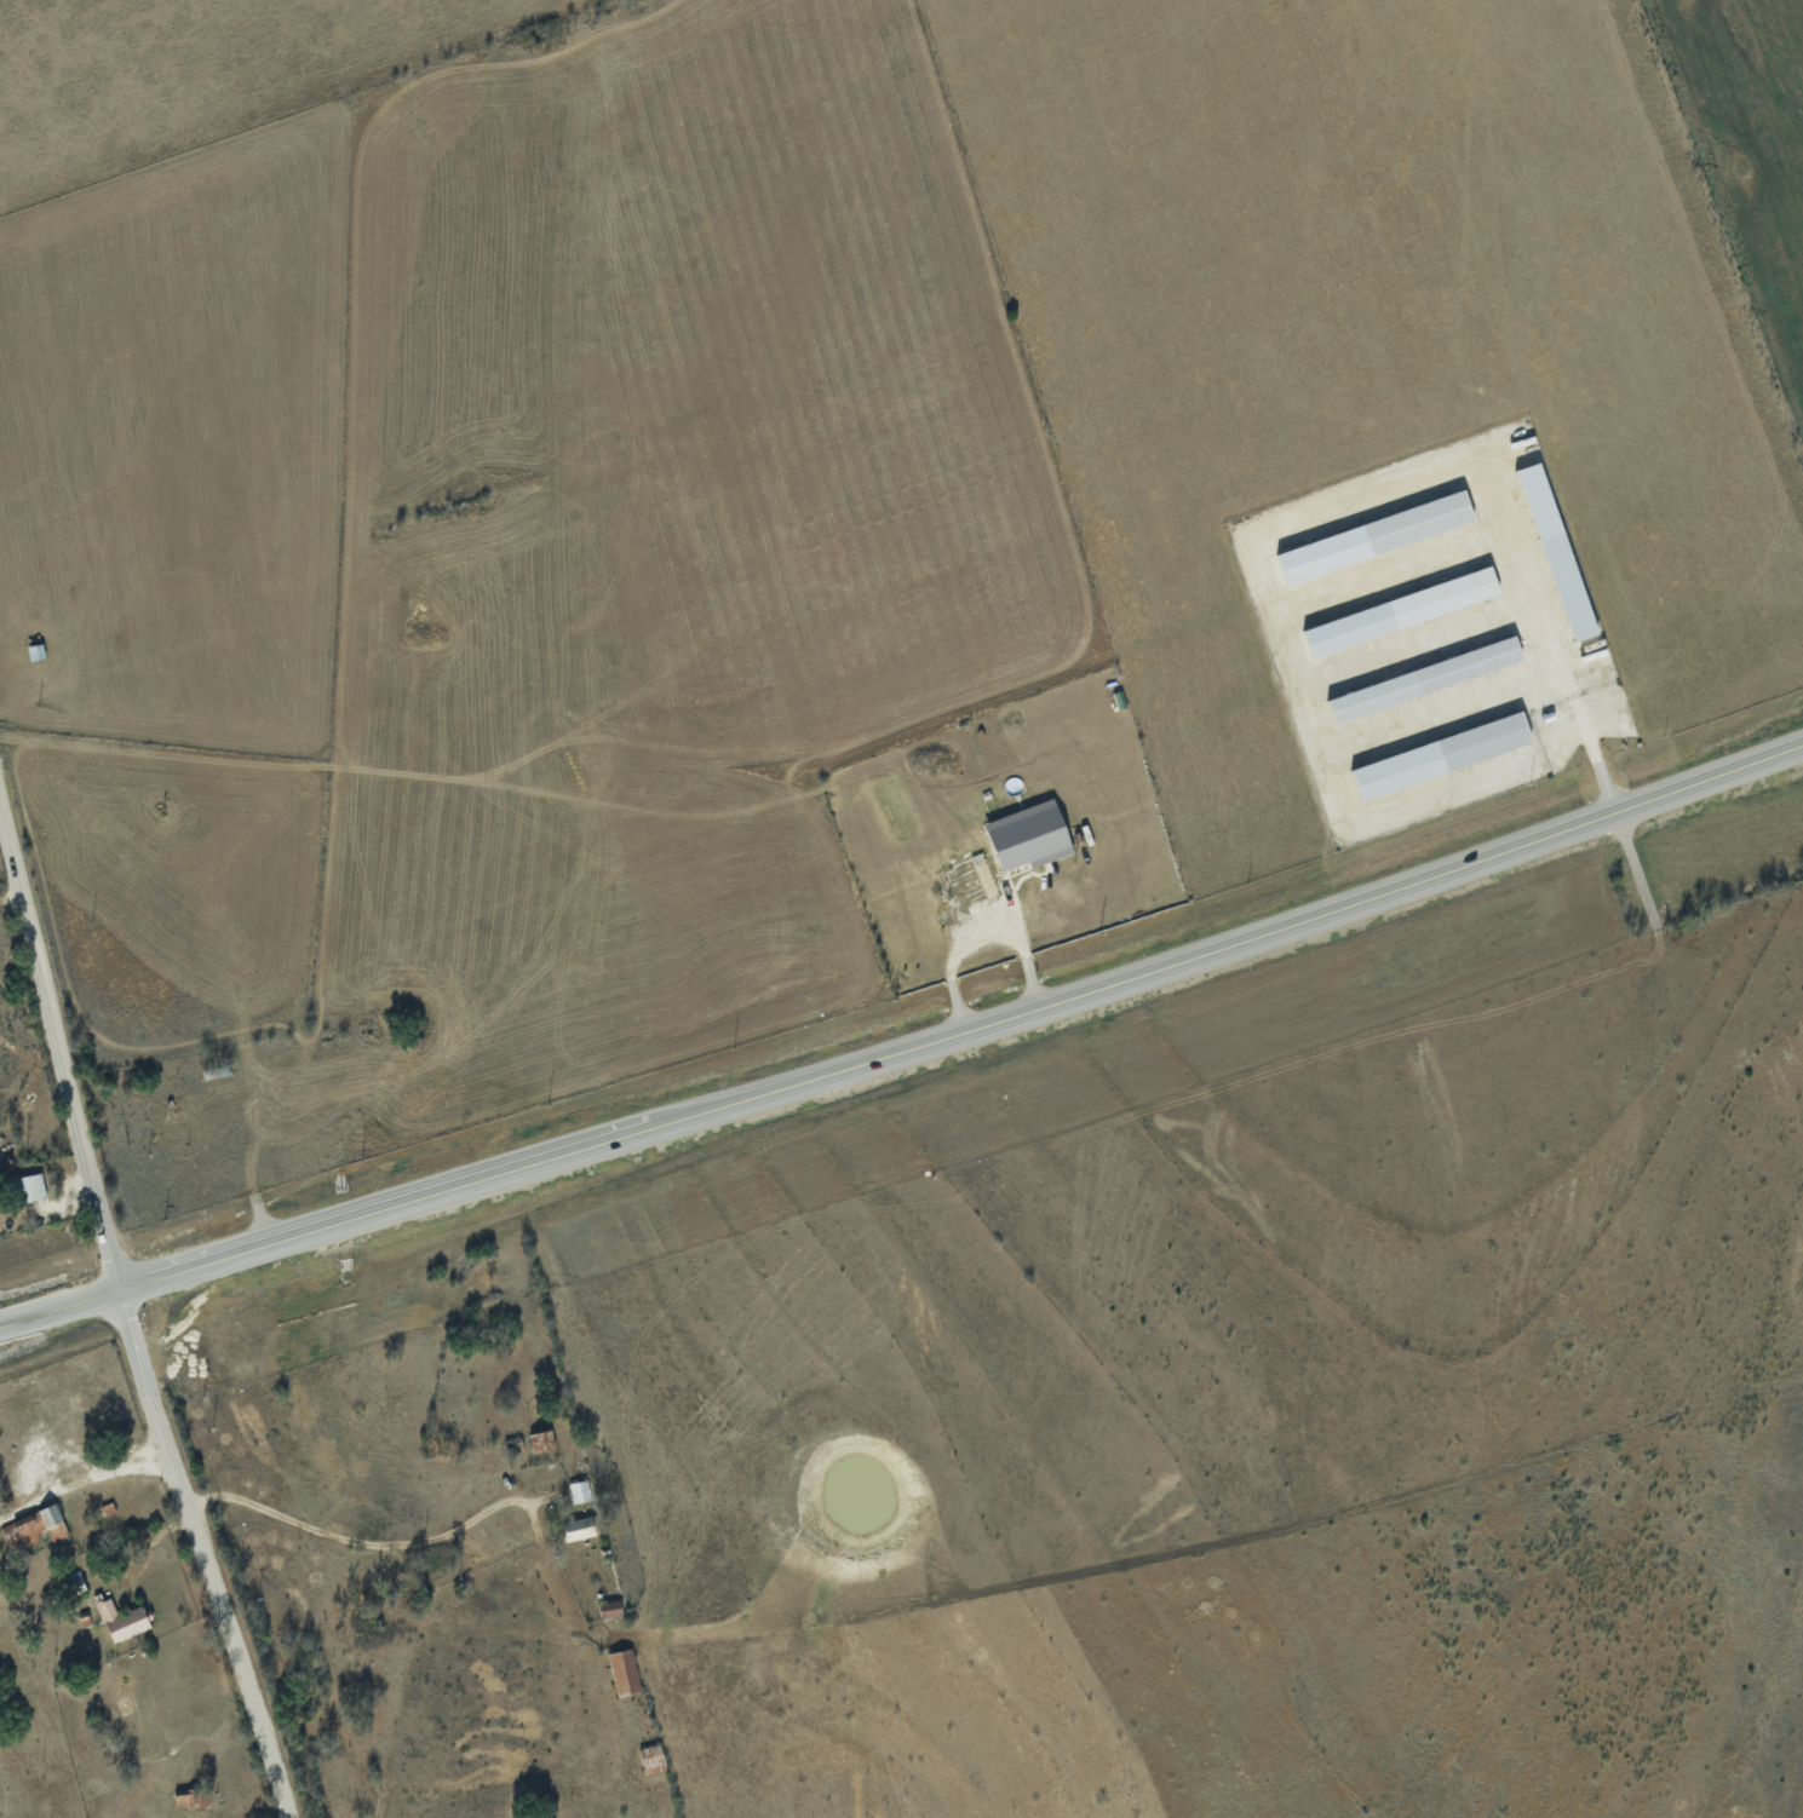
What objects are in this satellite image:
road: (1288, 519)
building: (1419, 522)
building: (1569, 585)
building: (1402, 610)
building: (1425, 679)
building: (1442, 755)
building: (1030, 835)
building: (974, 880)
road: (980, 937)
road: (907, 1043)
building: (31, 1186)
road: (124, 1317)
building: (541, 1440)
road: (81, 1482)
building: (579, 1491)
building: (34, 1528)
building: (579, 1529)
road: (354, 1541)
building: (609, 1609)
building: (122, 1619)
building: (624, 1672)
building: (193, 1797)

